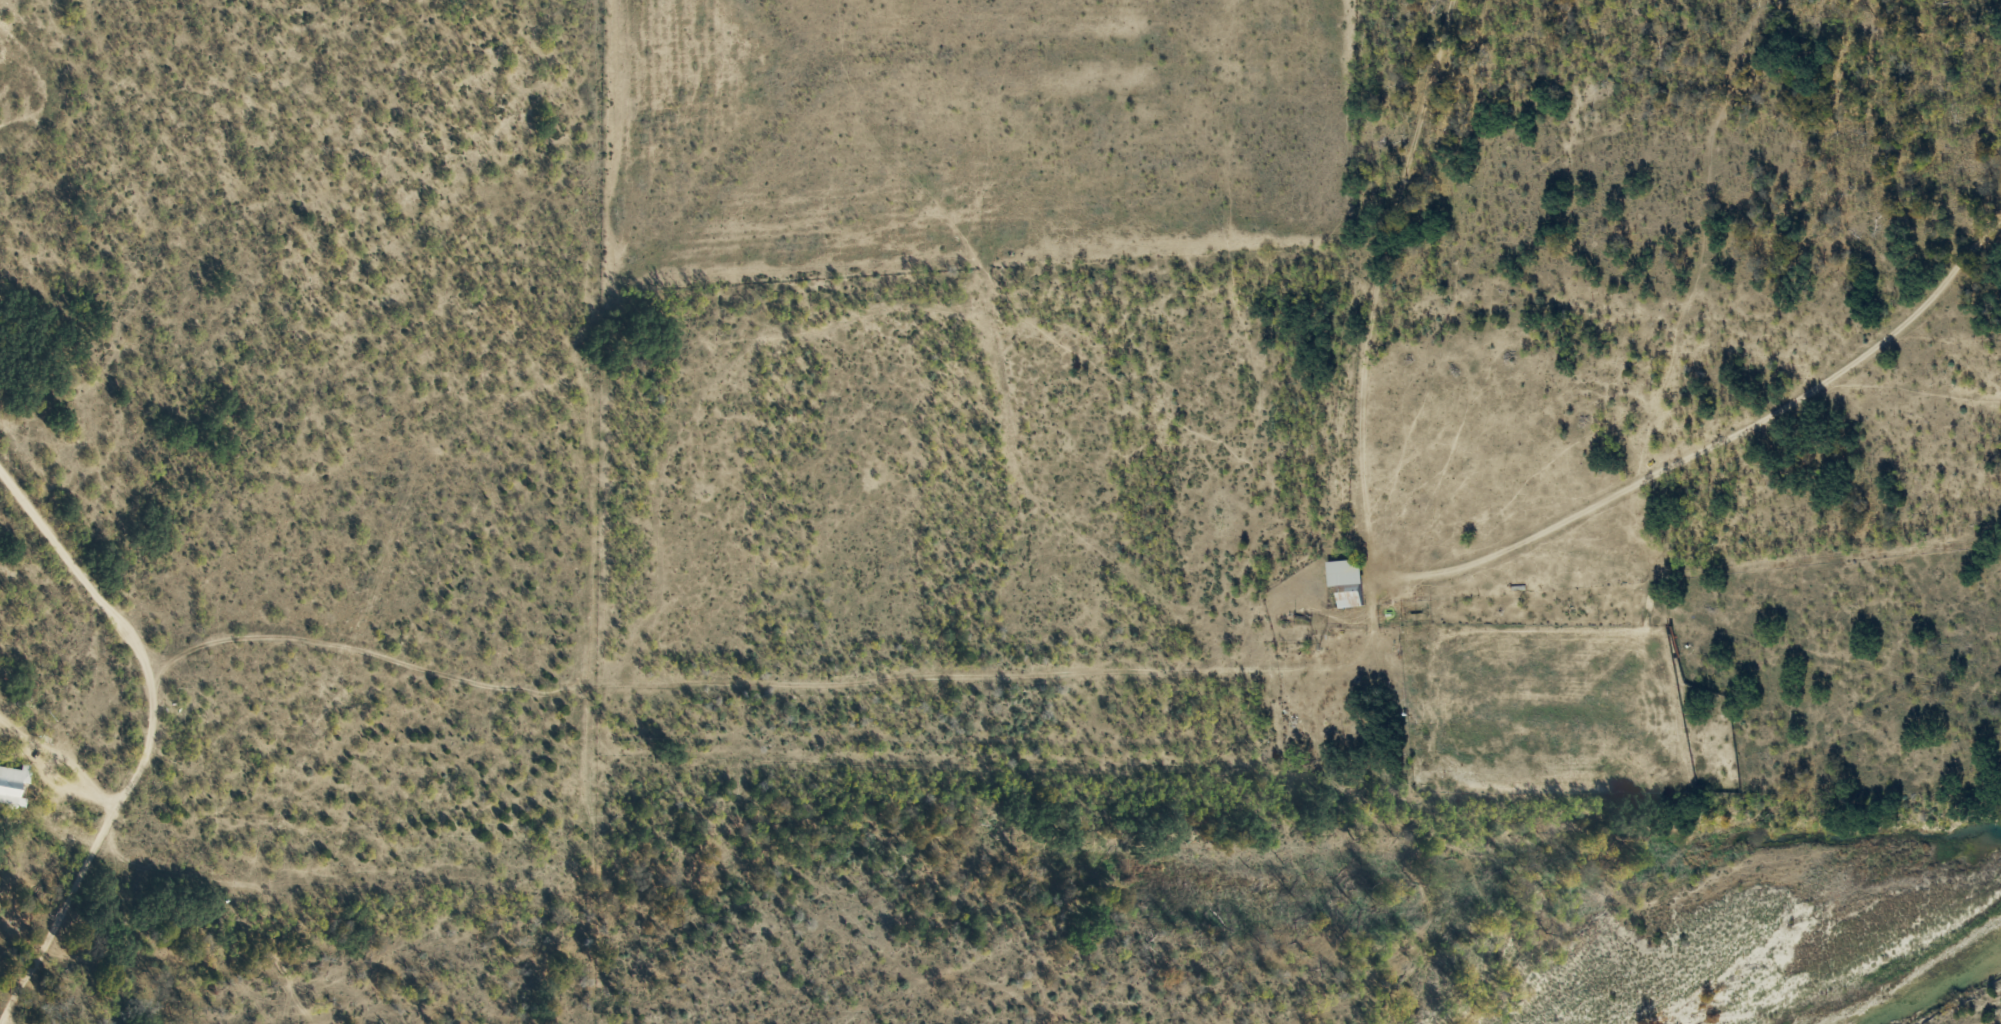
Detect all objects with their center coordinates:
road: (68, 558)
building: (1345, 582)
building: (12, 785)
road: (97, 841)
road: (36, 866)
river: (1839, 934)

